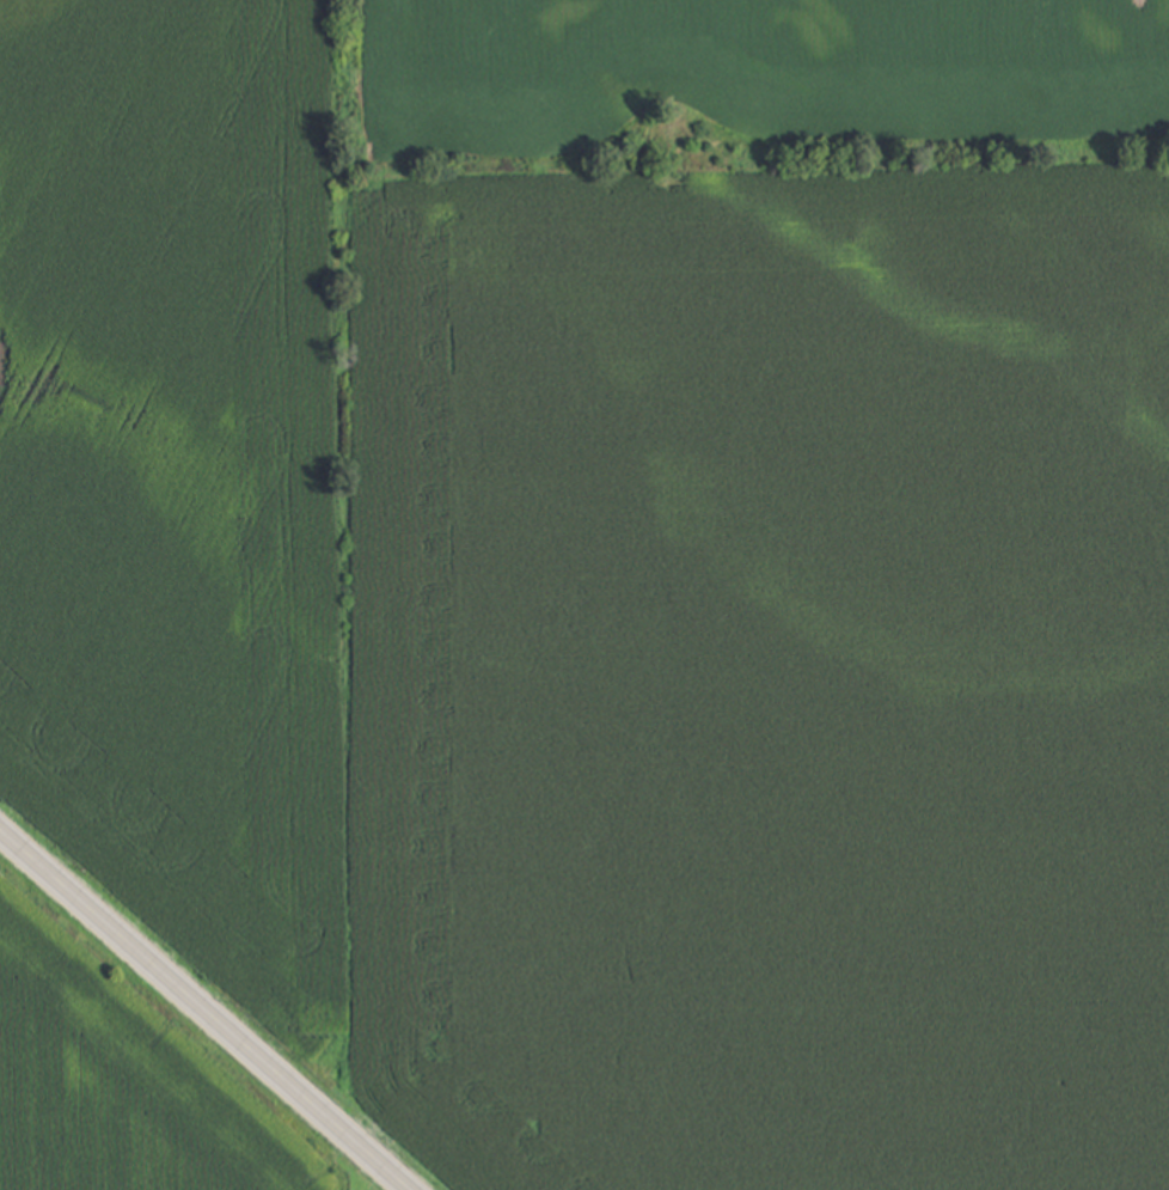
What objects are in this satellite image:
road: (190, 1021)

